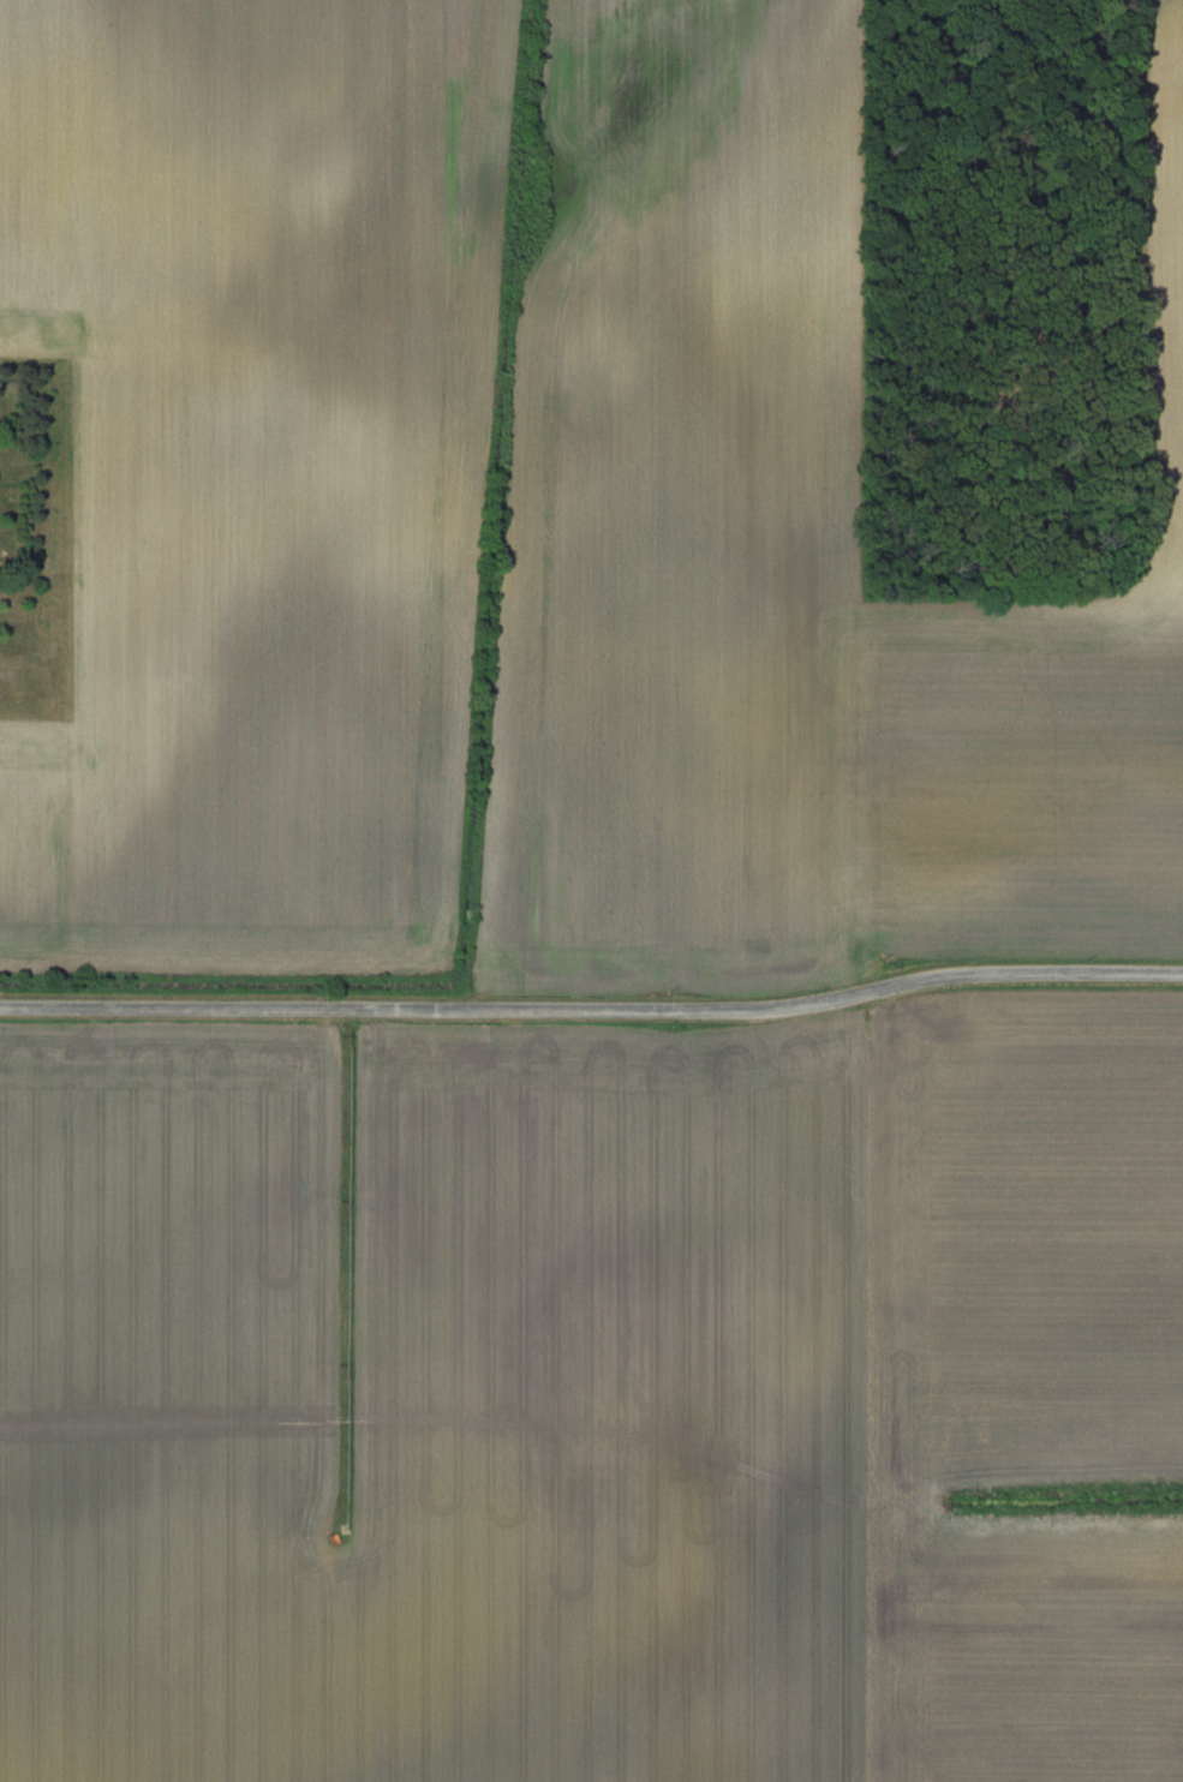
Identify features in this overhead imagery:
road: (593, 1015)

